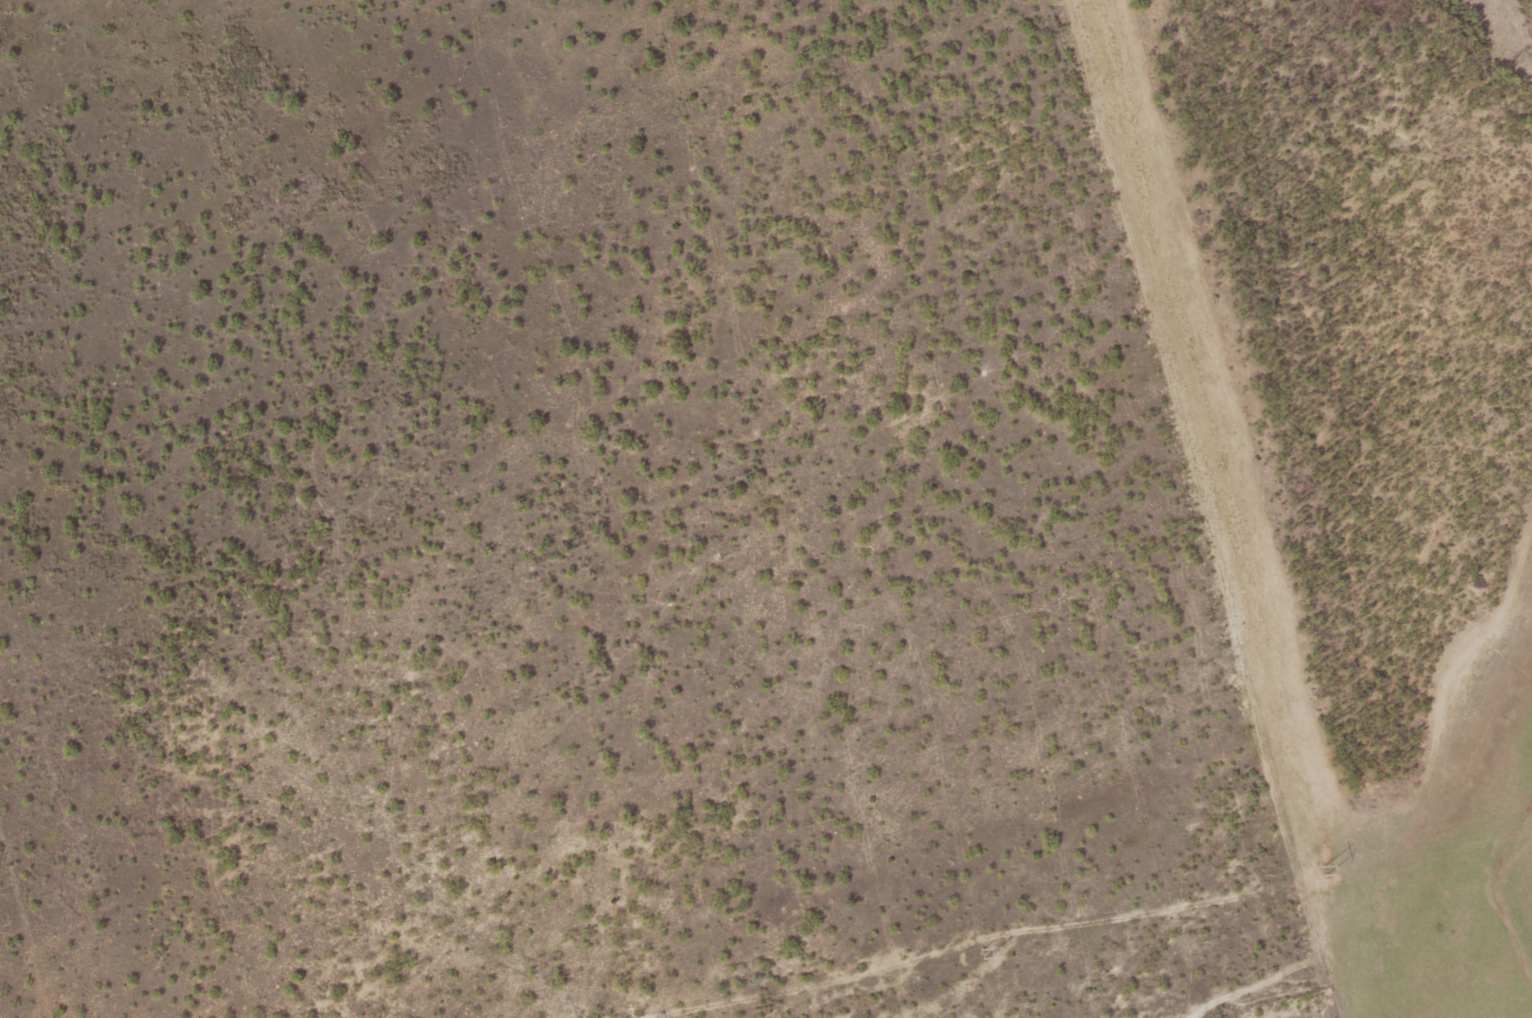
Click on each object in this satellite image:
power tower: (1316, 871)
power tower: (980, 953)

